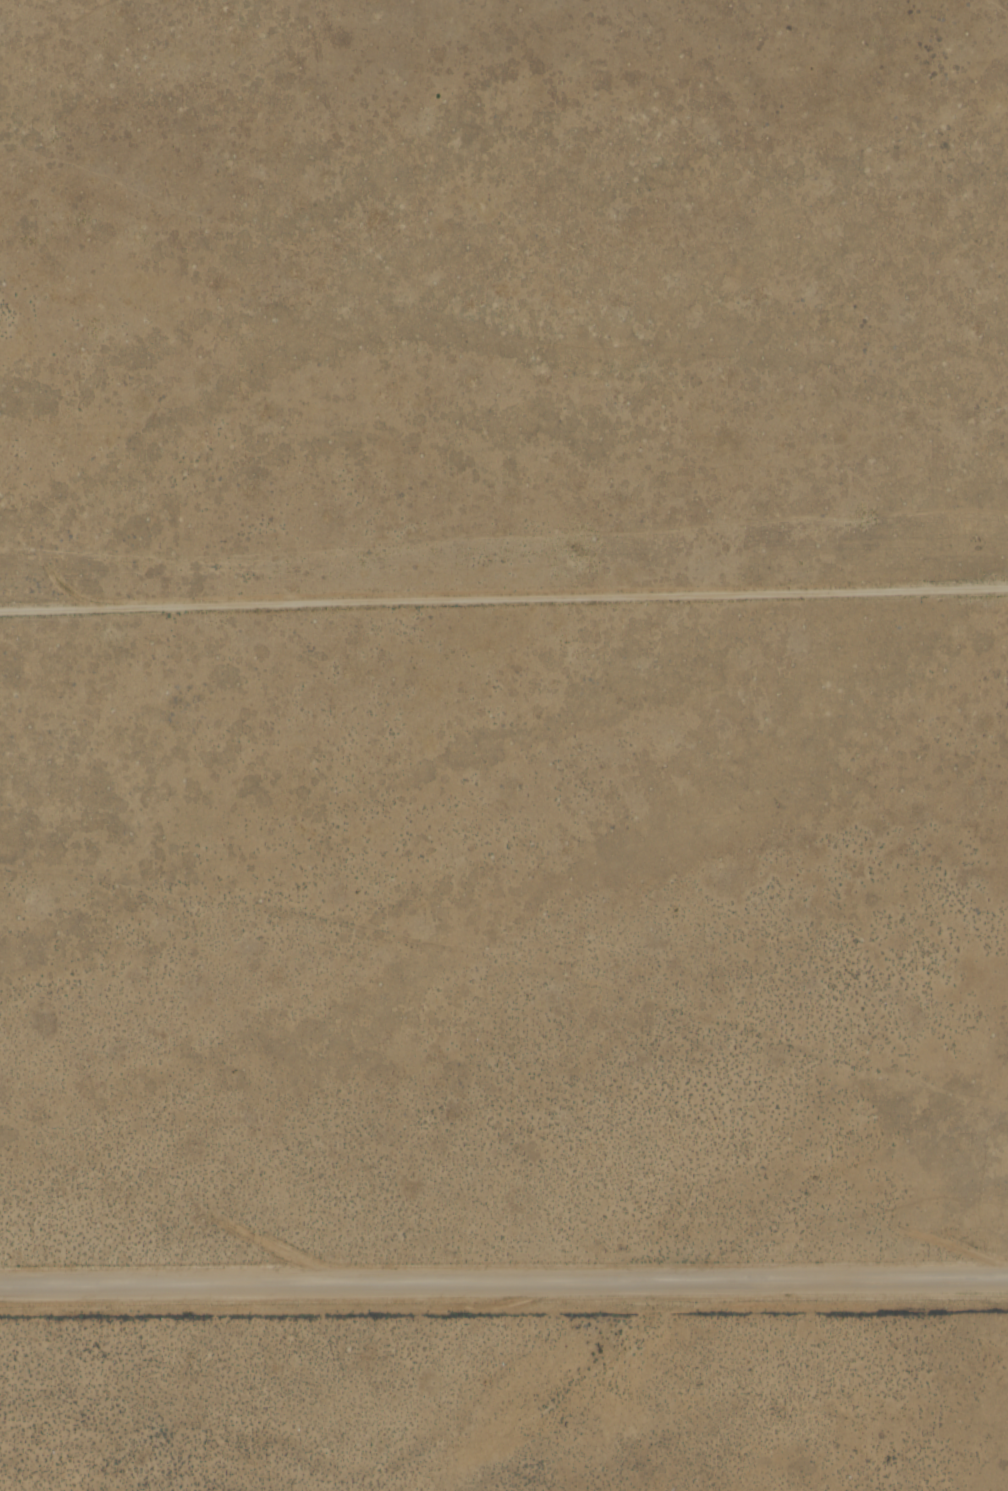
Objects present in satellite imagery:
road: (504, 1289)

